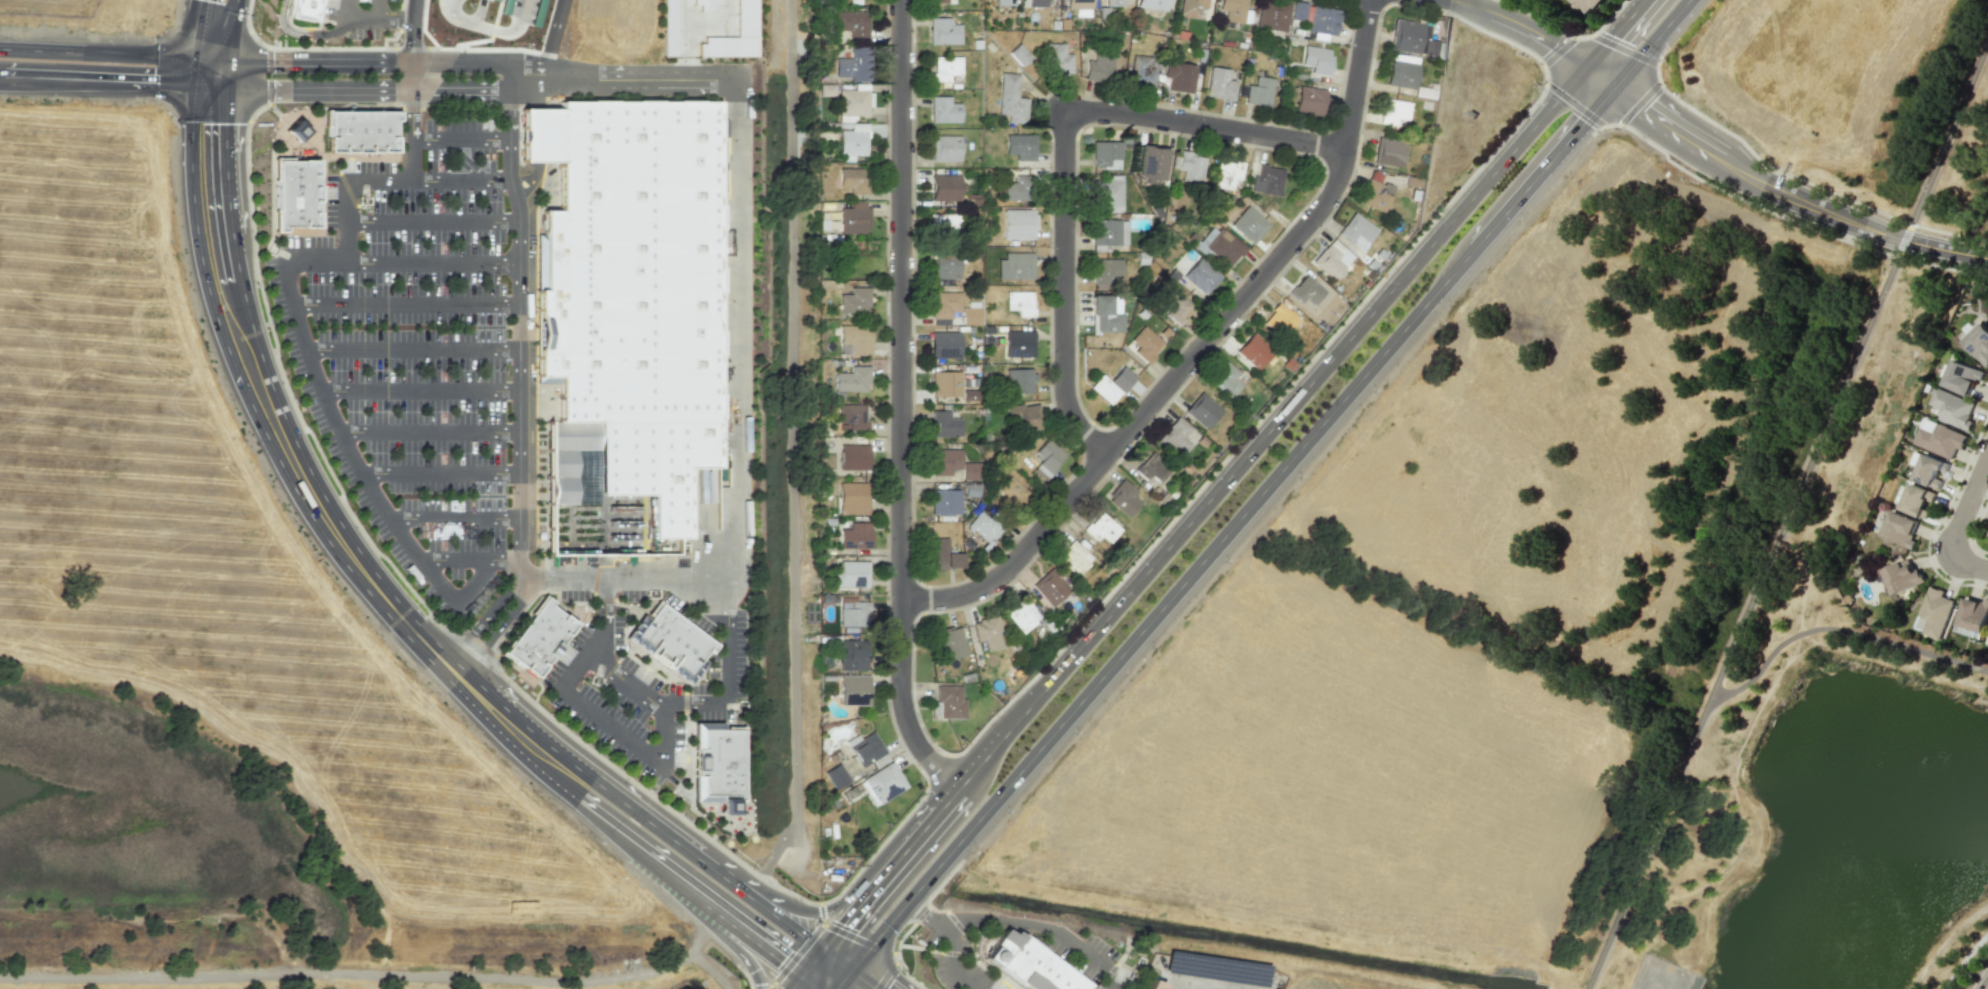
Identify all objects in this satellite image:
building: (937, 1)
building: (1004, 2)
building: (1115, 2)
road: (1470, 2)
building: (1037, 3)
building: (706, 4)
building: (1079, 4)
building: (1153, 4)
building: (1587, 4)
building: (1192, 7)
road: (345, 9)
road: (376, 9)
building: (301, 10)
building: (1234, 10)
building: (1298, 11)
building: (1274, 15)
road: (359, 18)
road: (393, 18)
building: (747, 18)
road: (466, 20)
building: (1324, 20)
road: (516, 21)
building: (851, 22)
road: (1522, 27)
building: (669, 28)
road: (212, 29)
building: (943, 31)
road: (303, 33)
road: (308, 33)
road: (1611, 36)
road: (552, 37)
building: (1411, 38)
road: (412, 44)
road: (1647, 46)
road: (102, 54)
building: (1018, 55)
building: (1057, 58)
traffic signals: (205, 59)
road: (356, 60)
building: (1317, 60)
building: (852, 65)
building: (1099, 67)
building: (945, 68)
road: (204, 72)
building: (1142, 72)
traffic signals: (1579, 72)
building: (1401, 74)
building: (1180, 76)
road: (622, 78)
road: (1, 79)
road: (103, 82)
road: (1594, 82)
building: (1219, 84)
crop: (1852, 85)
traffic signals: (204, 86)
road: (460, 87)
road: (308, 90)
building: (827, 90)
building: (1260, 92)
traffic signals: (1610, 93)
building: (1011, 100)
building: (1311, 101)
building: (853, 103)
building: (943, 110)
building: (1393, 111)
building: (361, 125)
road: (1205, 125)
road: (1577, 130)
road: (412, 134)
road: (460, 139)
building: (852, 144)
building: (1021, 144)
building: (945, 145)
road: (1948, 146)
building: (1105, 152)
building: (1388, 152)
building: (1149, 159)
street lamp: (251, 163)
building: (1191, 163)
building: (1227, 171)
building: (1267, 177)
road: (461, 180)
building: (853, 180)
building: (945, 185)
road: (343, 186)
building: (1020, 186)
building: (296, 188)
building: (1106, 191)
building: (1374, 193)
road: (1790, 195)
road: (1509, 207)
building: (854, 218)
building: (947, 220)
road: (431, 221)
building: (1019, 221)
building: (1249, 222)
building: (1357, 228)
building: (1104, 229)
building: (1223, 245)
building: (1328, 259)
road: (430, 262)
building: (945, 263)
building: (1016, 264)
building: (1105, 267)
building: (1200, 273)
street lamp: (257, 284)
building: (1307, 287)
building: (629, 289)
road: (1063, 291)
building: (854, 298)
building: (1020, 300)
building: (946, 302)
road: (404, 303)
building: (1176, 304)
building: (1102, 310)
building: (971, 313)
road: (519, 318)
street lamp: (1248, 318)
building: (1279, 319)
building: (855, 337)
building: (1976, 341)
building: (1019, 342)
building: (1145, 342)
building: (946, 343)
building: (1254, 348)
road: (413, 349)
road: (1196, 350)
parking lot: (409, 355)
building: (852, 377)
building: (1225, 377)
building: (1961, 377)
building: (1020, 378)
building: (946, 382)
building: (1111, 382)
road: (420, 390)
street lamp: (295, 399)
road: (900, 403)
building: (1202, 408)
building: (1953, 408)
building: (853, 414)
building: (1025, 415)
building: (944, 423)
road: (429, 431)
road: (735, 432)
building: (1174, 435)
street lamp: (1979, 436)
road: (344, 438)
building: (1939, 438)
building: (854, 455)
road: (794, 456)
building: (1047, 457)
building: (946, 460)
building: (1152, 466)
road: (296, 467)
building: (971, 469)
building: (1928, 470)
road: (440, 472)
building: (972, 488)
building: (1012, 489)
building: (853, 493)
building: (1124, 496)
road: (1970, 497)
building: (1916, 499)
building: (945, 500)
street lamp: (1984, 501)
street lamp: (352, 509)
road: (1199, 510)
road: (1786, 515)
road: (454, 517)
road: (1785, 518)
building: (986, 524)
building: (1102, 527)
building: (1899, 529)
building: (856, 534)
street lamp: (1929, 546)
building: (944, 552)
building: (1074, 557)
road: (1966, 557)
building: (851, 573)
building: (1902, 573)
crop: (243, 584)
building: (1051, 586)
road: (455, 601)
crop: (1469, 604)
road: (1160, 608)
road: (492, 609)
building: (854, 613)
building: (1933, 613)
building: (1022, 614)
road: (1753, 614)
building: (1973, 614)
road: (605, 616)
road: (506, 617)
road: (1840, 628)
building: (989, 630)
building: (540, 638)
building: (675, 639)
building: (1987, 640)
building: (949, 641)
building: (852, 653)
road: (463, 657)
road: (580, 667)
street lamp: (503, 668)
road: (728, 669)
road: (627, 682)
road: (886, 686)
parking lot: (648, 687)
building: (854, 689)
building: (950, 700)
road: (614, 724)
road: (665, 735)
street lamp: (591, 745)
building: (866, 748)
building: (722, 762)
building: (836, 775)
building: (884, 781)
road: (630, 807)
street lamp: (679, 811)
road: (629, 833)
street lamp: (750, 865)
road: (863, 873)
road: (723, 875)
road: (940, 885)
road: (721, 901)
road: (930, 917)
road: (783, 920)
road: (1009, 923)
road: (961, 929)
building: (991, 931)
road: (849, 935)
road: (768, 937)
building: (983, 937)
building: (1027, 937)
building: (921, 938)
building: (978, 945)
road: (696, 946)
traffic signals: (819, 947)
road: (897, 947)
road: (744, 949)
road: (935, 949)
building: (1124, 953)
building: (978, 955)
road: (811, 957)
building: (1130, 958)
road: (833, 959)
road: (789, 961)
building: (1032, 965)
traffic signals: (804, 967)
traffic signals: (848, 971)
road: (994, 972)
street lamp: (1975, 972)
road: (354, 973)
road: (889, 974)
road: (745, 975)
road: (795, 978)
road: (815, 978)
road: (840, 980)
road: (858, 980)
road: (1201, 981)
building: (1153, 984)
road: (1985, 985)
road: (773, 987)

